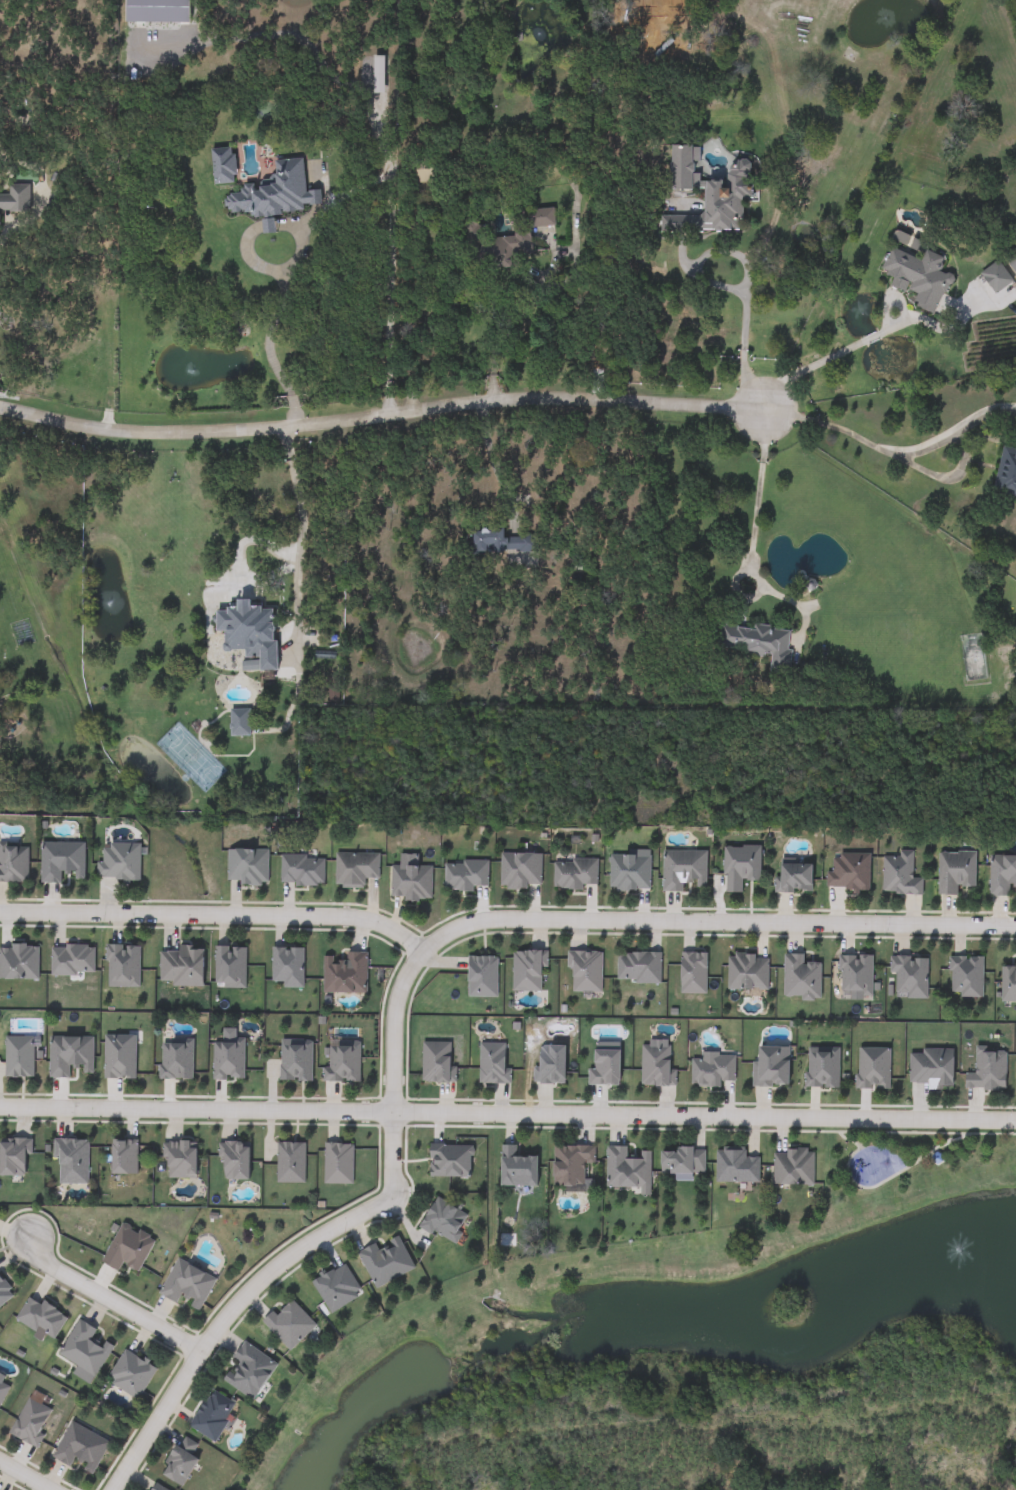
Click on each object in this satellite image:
building: (147, 11)
building: (222, 165)
building: (422, 170)
building: (273, 192)
building: (708, 194)
building: (15, 197)
building: (525, 231)
building: (1011, 259)
building: (917, 277)
building: (995, 277)
road: (522, 299)
road: (753, 312)
road: (269, 340)
road: (829, 351)
road: (381, 419)
road: (893, 447)
road: (506, 458)
building: (1006, 472)
road: (765, 506)
road: (301, 538)
building: (500, 541)
road: (238, 559)
building: (248, 632)
building: (756, 643)
building: (972, 658)
building: (238, 724)
building: (61, 862)
building: (119, 863)
building: (14, 864)
building: (246, 867)
building: (740, 867)
building: (355, 869)
building: (683, 870)
building: (301, 871)
building: (520, 871)
building: (849, 872)
building: (955, 872)
building: (629, 873)
building: (574, 874)
building: (899, 875)
building: (1002, 875)
building: (465, 876)
building: (794, 879)
building: (411, 883)
road: (215, 913)
building: (72, 960)
building: (19, 963)
building: (122, 966)
building: (181, 967)
building: (287, 967)
building: (229, 968)
building: (638, 968)
building: (527, 971)
building: (585, 972)
building: (747, 972)
building: (344, 974)
building: (693, 974)
building: (855, 974)
building: (909, 976)
building: (966, 976)
building: (800, 977)
road: (403, 978)
building: (1008, 984)
building: (70, 1054)
building: (119, 1056)
building: (176, 1059)
building: (228, 1059)
building: (295, 1059)
building: (342, 1061)
building: (492, 1063)
building: (656, 1065)
building: (771, 1065)
building: (822, 1067)
building: (873, 1067)
building: (931, 1067)
building: (711, 1069)
building: (987, 1070)
road: (507, 1111)
building: (123, 1157)
building: (181, 1159)
building: (71, 1160)
building: (234, 1160)
building: (449, 1160)
building: (681, 1160)
building: (290, 1163)
building: (338, 1163)
building: (570, 1164)
building: (734, 1165)
building: (792, 1166)
building: (516, 1167)
building: (626, 1168)
building: (443, 1220)
building: (127, 1248)
building: (385, 1261)
building: (187, 1285)
building: (336, 1287)
building: (4, 1293)
road: (109, 1299)
building: (40, 1318)
building: (289, 1323)
building: (84, 1349)
building: (248, 1371)
building: (130, 1375)
building: (3, 1388)
building: (212, 1416)
building: (31, 1422)
building: (80, 1448)
building: (180, 1461)
road: (24, 1476)
building: (152, 1487)

